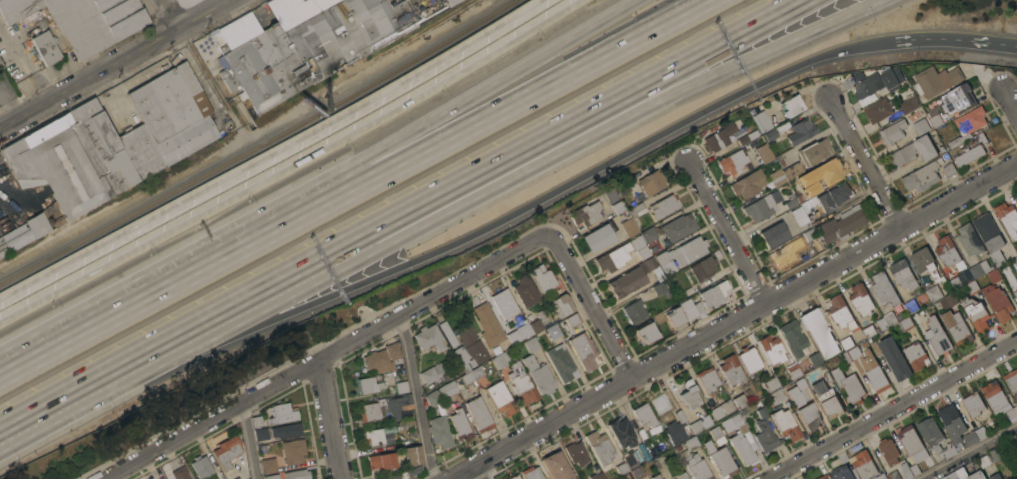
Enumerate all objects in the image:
building: (446, 1)
building: (451, 2)
building: (83, 20)
road: (923, 38)
building: (303, 43)
road: (986, 43)
building: (46, 47)
road: (200, 62)
building: (0, 64)
road: (116, 64)
building: (891, 78)
building: (936, 80)
building: (863, 87)
building: (957, 98)
road: (1009, 102)
building: (908, 105)
building: (791, 106)
road: (9, 107)
building: (880, 111)
building: (174, 112)
road: (429, 117)
building: (766, 120)
building: (935, 120)
building: (968, 125)
road: (472, 126)
building: (921, 126)
road: (565, 128)
road: (603, 129)
building: (799, 131)
building: (892, 133)
building: (769, 135)
building: (726, 138)
railway: (258, 146)
building: (942, 149)
building: (141, 151)
road: (270, 151)
building: (914, 151)
building: (813, 152)
building: (762, 154)
building: (968, 155)
building: (731, 162)
road: (866, 162)
road: (292, 164)
building: (67, 167)
building: (823, 169)
building: (791, 170)
building: (949, 170)
building: (775, 177)
building: (922, 177)
building: (651, 182)
building: (747, 184)
building: (797, 187)
building: (812, 189)
building: (622, 191)
building: (839, 193)
building: (775, 197)
building: (799, 198)
building: (1015, 200)
road: (528, 203)
building: (789, 204)
building: (816, 204)
building: (618, 207)
building: (663, 207)
building: (841, 207)
building: (759, 209)
building: (588, 212)
building: (798, 216)
building: (1007, 218)
building: (631, 220)
building: (842, 224)
building: (677, 227)
road: (728, 233)
building: (648, 235)
building: (772, 235)
building: (809, 235)
building: (989, 237)
building: (597, 238)
building: (969, 240)
building: (3, 247)
building: (690, 249)
building: (793, 249)
building: (946, 251)
building: (642, 253)
building: (778, 257)
building: (613, 258)
building: (662, 259)
building: (926, 263)
building: (652, 268)
building: (702, 269)
building: (979, 269)
building: (902, 275)
building: (1007, 275)
building: (994, 276)
building: (542, 278)
building: (626, 282)
building: (954, 283)
building: (971, 287)
building: (658, 289)
building: (883, 289)
building: (525, 291)
building: (688, 291)
building: (933, 293)
building: (1015, 293)
building: (713, 295)
building: (860, 300)
building: (946, 302)
building: (998, 303)
road: (243, 304)
building: (503, 304)
road: (116, 305)
building: (562, 305)
road: (592, 305)
building: (911, 307)
building: (690, 308)
building: (634, 312)
building: (840, 313)
building: (975, 314)
building: (673, 317)
building: (914, 318)
building: (569, 322)
road: (733, 322)
building: (906, 323)
building: (880, 325)
building: (487, 326)
building: (532, 328)
building: (956, 328)
building: (819, 333)
building: (447, 334)
building: (645, 334)
building: (937, 337)
building: (428, 338)
building: (792, 338)
building: (846, 343)
building: (531, 345)
building: (468, 348)
building: (771, 349)
building: (392, 351)
building: (582, 351)
road: (328, 355)
building: (813, 357)
building: (846, 357)
building: (915, 357)
building: (748, 359)
building: (894, 359)
building: (499, 360)
building: (835, 360)
building: (377, 362)
building: (561, 364)
building: (731, 371)
building: (871, 371)
building: (793, 372)
building: (431, 373)
building: (538, 375)
building: (706, 380)
building: (1011, 380)
building: (459, 382)
building: (771, 384)
building: (366, 385)
building: (521, 385)
building: (399, 386)
building: (849, 386)
road: (78, 393)
building: (688, 394)
building: (777, 396)
road: (416, 397)
building: (995, 397)
building: (431, 398)
building: (499, 398)
building: (827, 399)
building: (739, 401)
building: (664, 404)
building: (803, 405)
building: (974, 407)
building: (385, 408)
building: (720, 409)
road: (893, 410)
building: (741, 412)
building: (282, 413)
building: (1012, 414)
building: (478, 415)
building: (643, 415)
building: (680, 416)
road: (330, 419)
building: (258, 420)
building: (952, 423)
building: (699, 424)
building: (733, 424)
building: (785, 424)
building: (459, 425)
building: (286, 430)
building: (388, 430)
building: (439, 432)
building: (929, 432)
building: (260, 433)
building: (620, 433)
building: (674, 433)
building: (641, 434)
building: (764, 434)
building: (716, 436)
building: (973, 436)
building: (372, 437)
building: (388, 438)
building: (1015, 440)
road: (247, 441)
building: (912, 444)
building: (599, 447)
building: (741, 449)
building: (227, 451)
building: (293, 451)
building: (888, 452)
road: (969, 452)
building: (575, 453)
building: (411, 455)
building: (994, 455)
building: (631, 459)
building: (693, 460)
building: (720, 461)
building: (985, 461)
building: (381, 462)
building: (201, 465)
building: (268, 465)
building: (863, 465)
building: (555, 467)
building: (621, 468)
building: (905, 469)
building: (914, 470)
building: (413, 472)
road: (475, 472)
building: (637, 472)
building: (181, 473)
building: (531, 473)
building: (841, 473)
building: (296, 474)
building: (893, 475)
building: (963, 475)
building: (232, 476)
building: (271, 476)
building: (597, 476)
building: (681, 476)
building: (394, 477)
building: (513, 477)
building: (655, 477)
building: (881, 477)
building: (995, 477)
building: (161, 478)
building: (243, 478)
building: (248, 478)
building: (821, 478)

